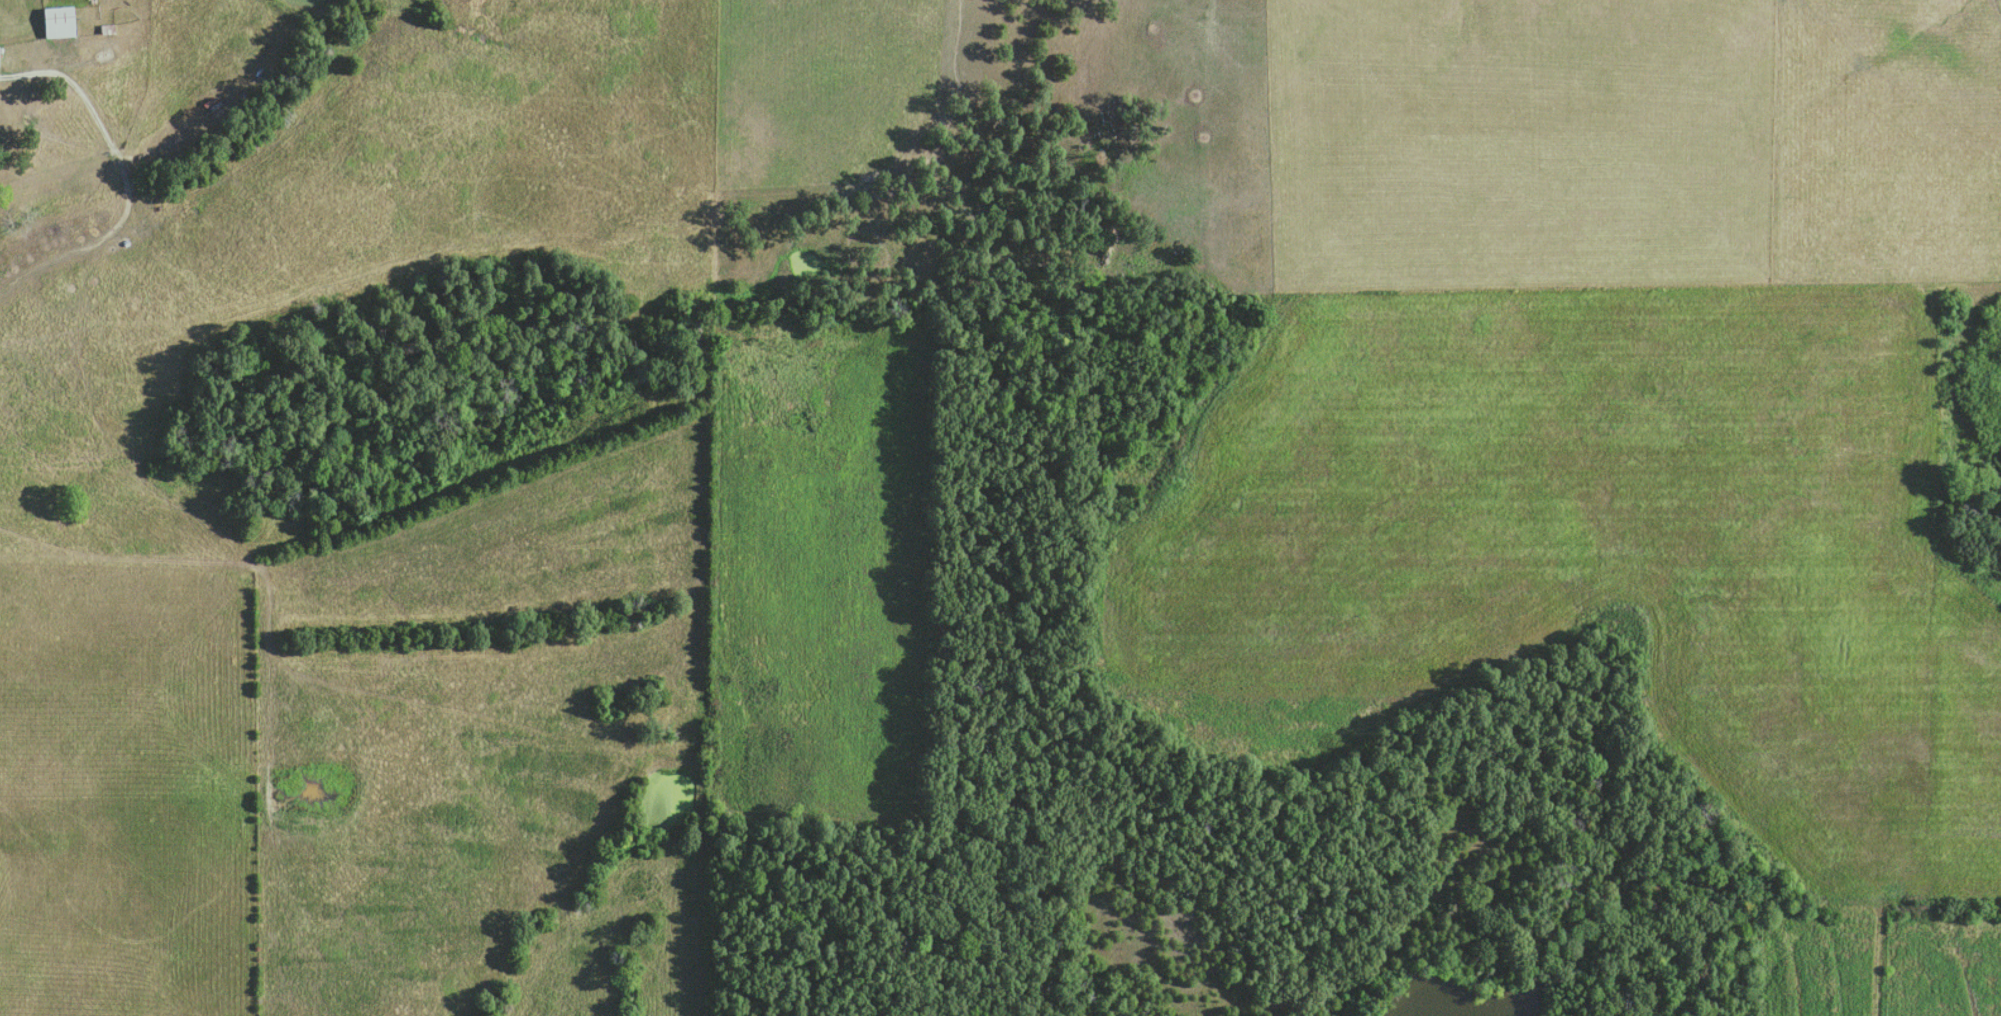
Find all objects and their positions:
building: (60, 21)
road: (102, 123)

